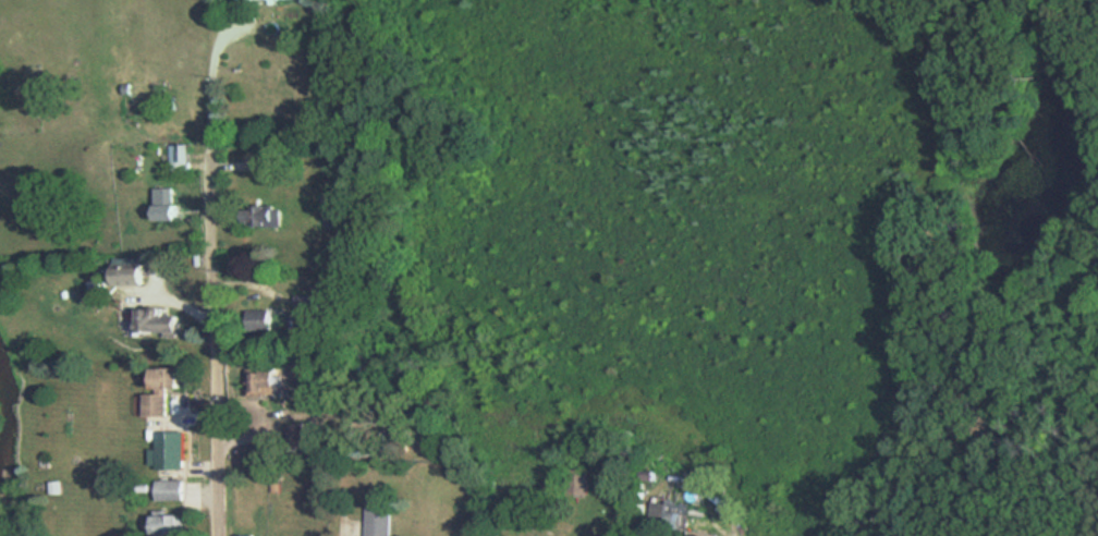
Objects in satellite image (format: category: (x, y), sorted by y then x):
building: (276, 0)
road: (218, 58)
building: (183, 160)
building: (278, 167)
building: (168, 208)
building: (261, 217)
park: (724, 224)
building: (129, 271)
building: (305, 302)
building: (156, 317)
building: (261, 317)
road: (213, 326)
building: (263, 380)
building: (160, 387)
building: (295, 436)
building: (168, 448)
building: (575, 484)
building: (172, 488)
building: (378, 519)
building: (169, 521)
building: (245, 532)
building: (513, 534)

